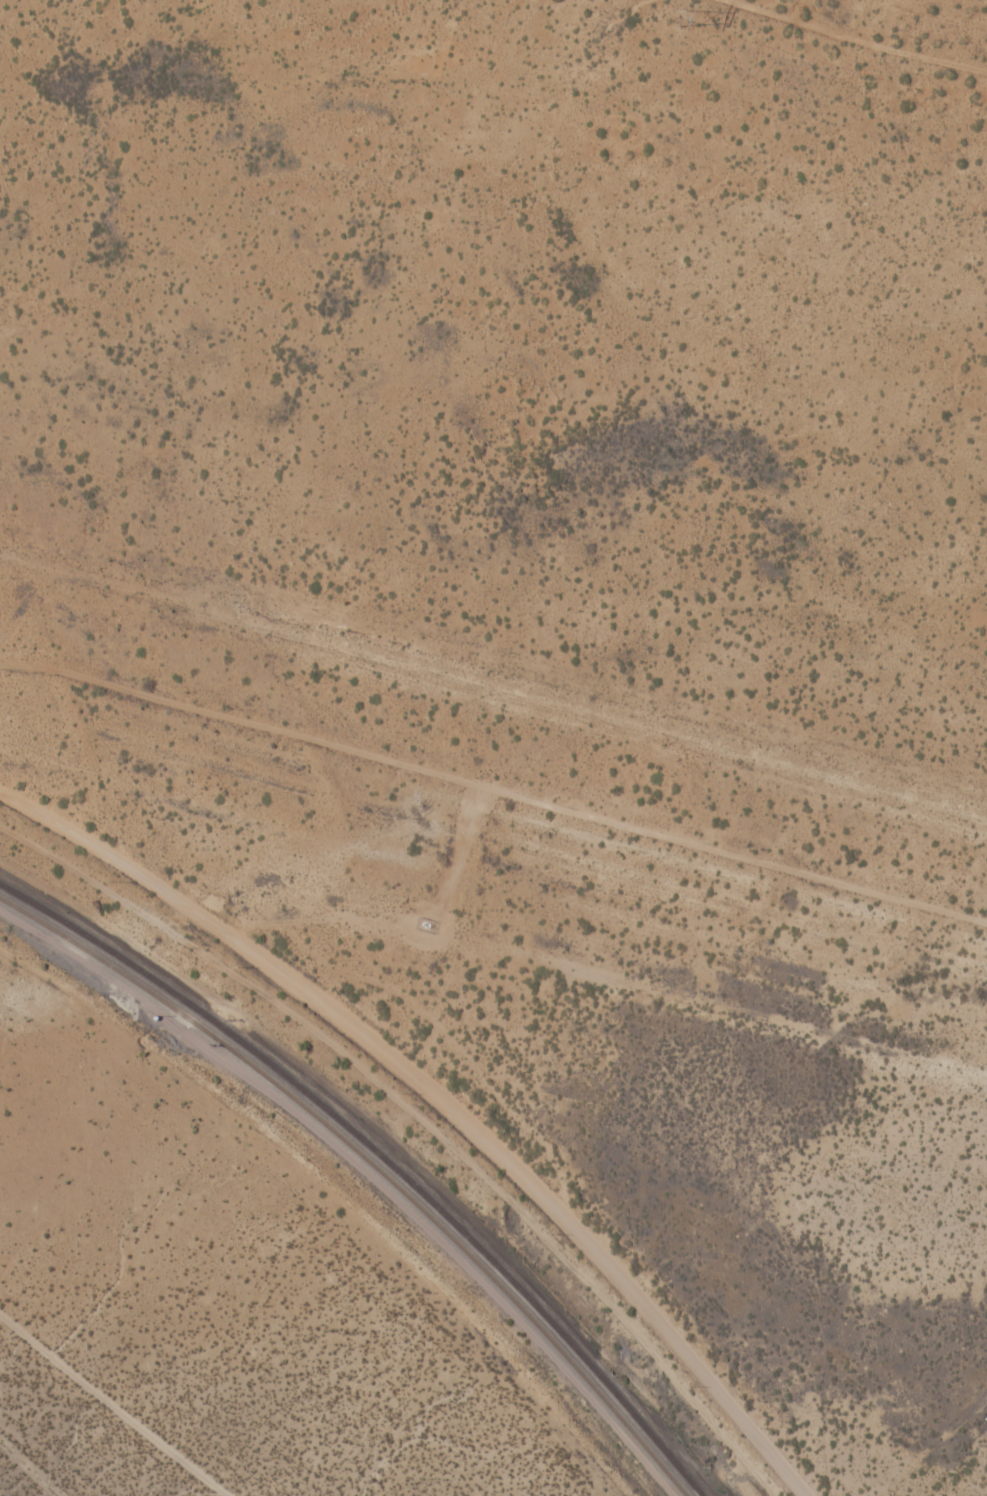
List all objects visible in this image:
power tower: (678, 17)
road: (888, 26)
road: (493, 782)
road: (441, 1098)
railway: (380, 1154)
railway: (371, 1162)
road: (98, 1412)

